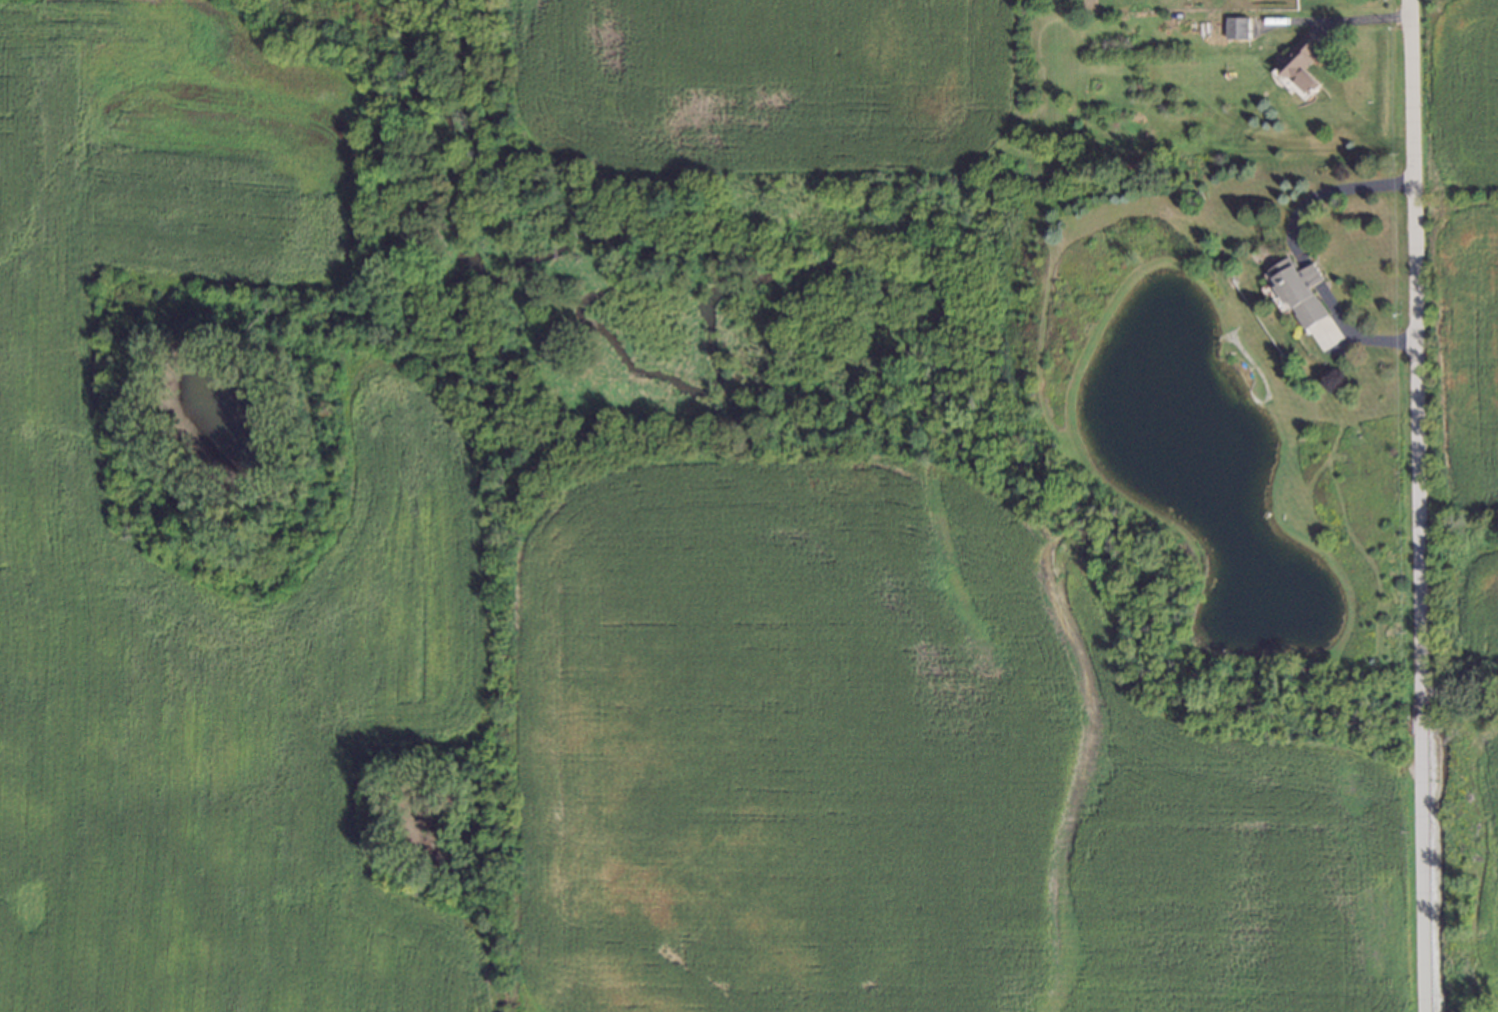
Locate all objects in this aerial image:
road: (1355, 18)
building: (1238, 26)
building: (1301, 59)
road: (1322, 199)
road: (1311, 272)
river: (831, 283)
building: (1294, 289)
road: (1351, 333)
building: (1064, 459)
road: (1414, 506)
river: (1416, 724)
river: (1442, 867)

